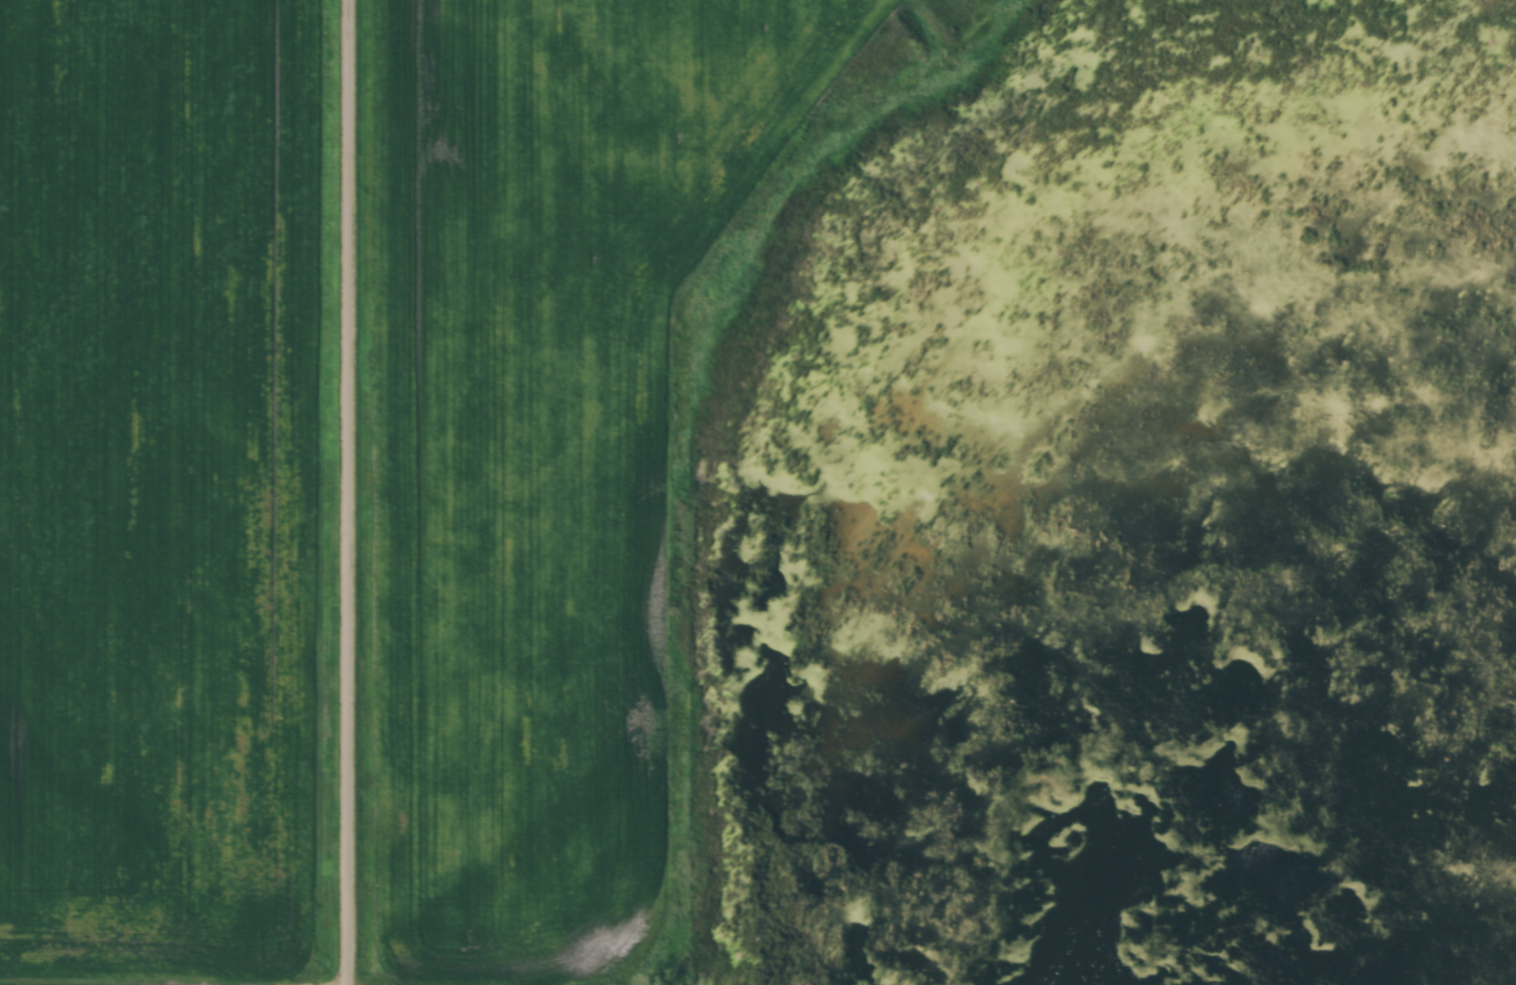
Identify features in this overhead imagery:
road: (348, 492)

